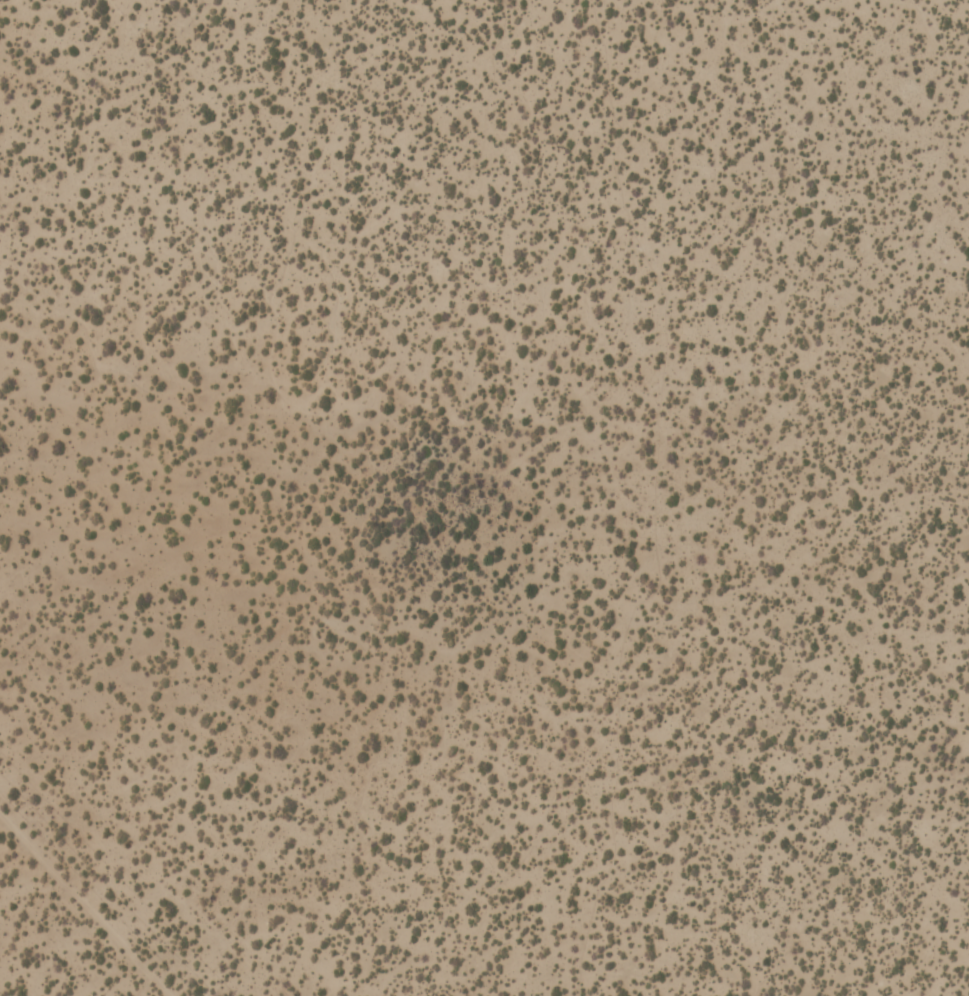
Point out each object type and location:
road: (86, 904)

